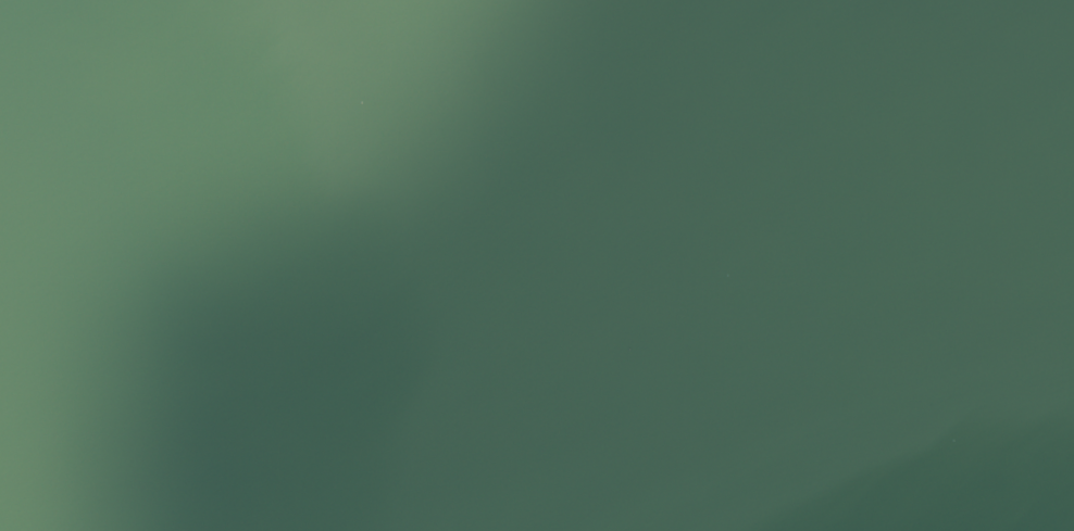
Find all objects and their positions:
river: (727, 182)

